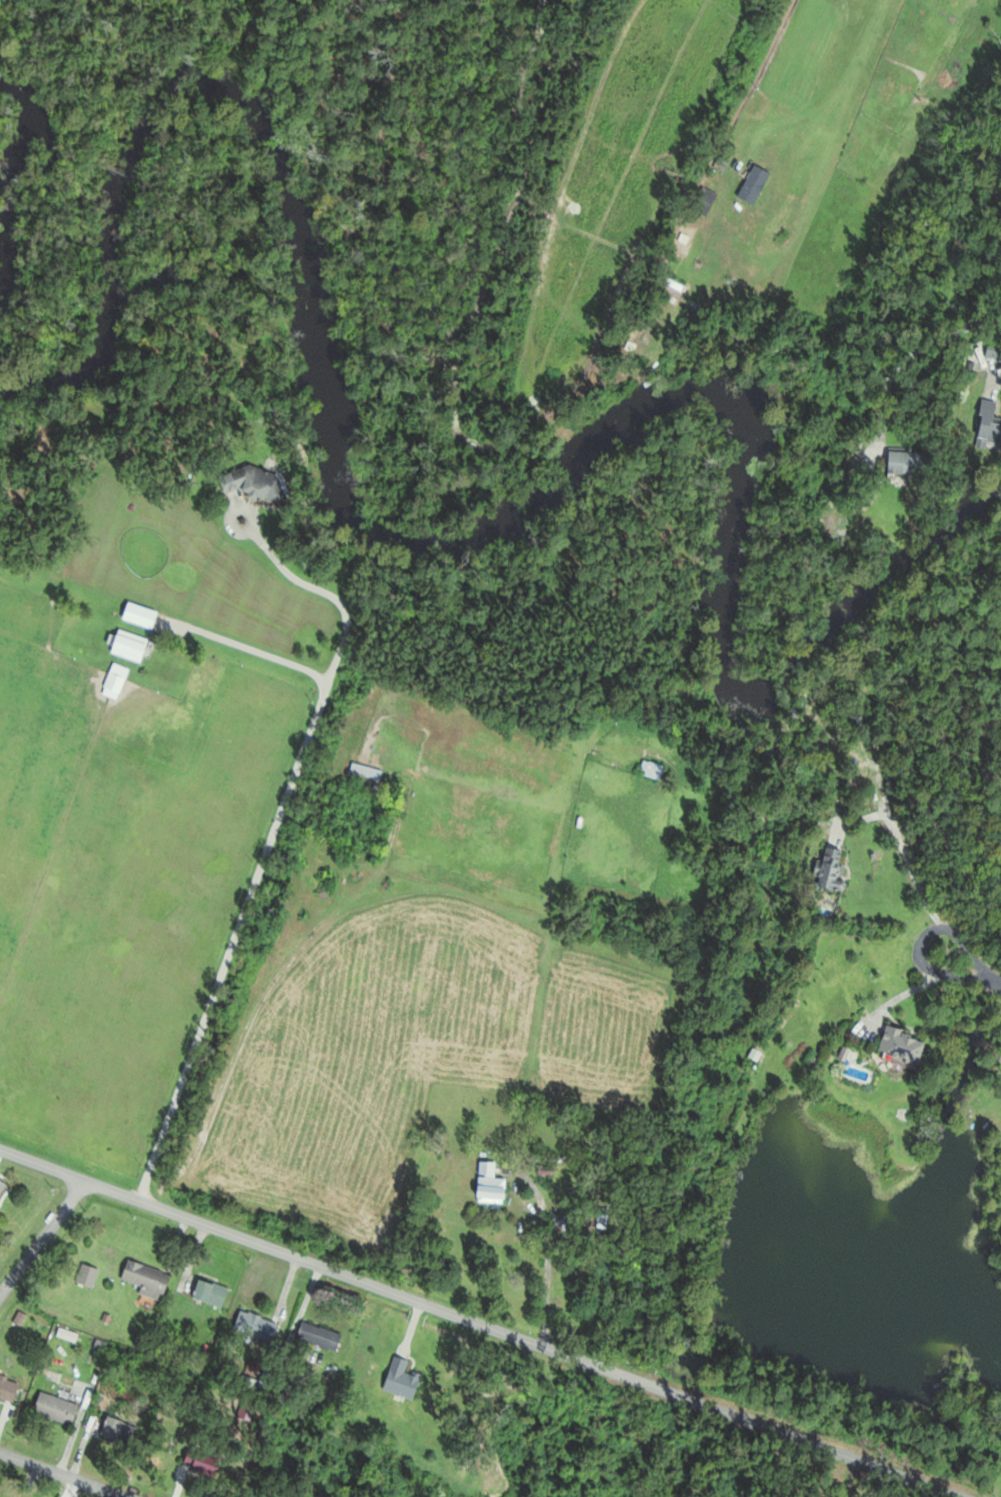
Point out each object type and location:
road: (833, 64)
building: (753, 184)
building: (994, 355)
road: (909, 356)
road: (997, 380)
building: (910, 385)
building: (908, 464)
building: (256, 484)
building: (141, 616)
building: (130, 646)
road: (250, 650)
building: (115, 682)
building: (652, 769)
building: (365, 770)
road: (263, 857)
building: (832, 869)
road: (923, 941)
road: (994, 986)
building: (903, 1045)
building: (490, 1184)
road: (544, 1229)
road: (42, 1235)
building: (145, 1280)
building: (210, 1293)
road: (479, 1322)
building: (319, 1337)
building: (266, 1377)
building: (5, 1390)
building: (56, 1408)
building: (119, 1431)
road: (64, 1473)
road: (883, 1483)
road: (938, 1493)

